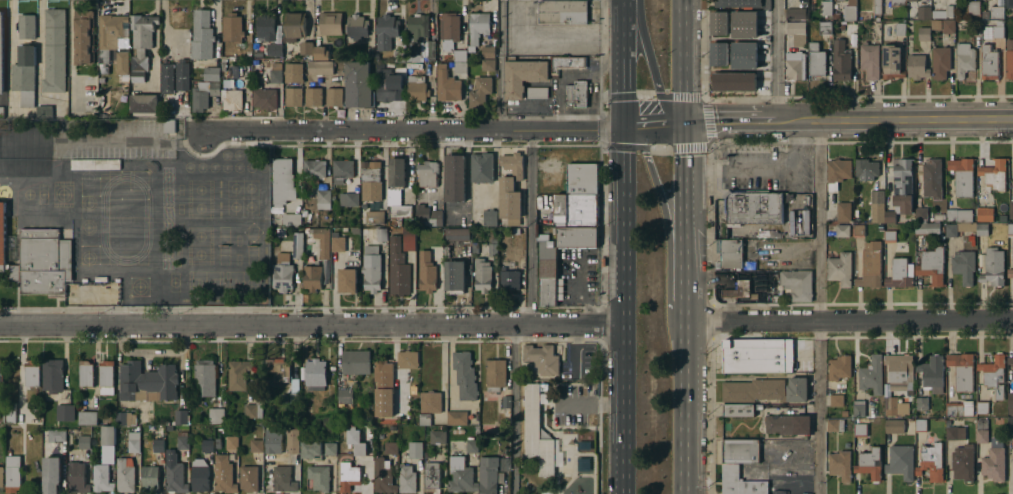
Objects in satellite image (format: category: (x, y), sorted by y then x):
building: (840, 0)
building: (912, 0)
building: (897, 3)
building: (742, 4)
building: (1008, 4)
building: (877, 7)
building: (826, 8)
building: (973, 8)
building: (563, 12)
building: (849, 13)
building: (923, 13)
building: (943, 13)
building: (997, 13)
building: (795, 14)
building: (984, 15)
building: (836, 17)
building: (718, 23)
building: (999, 23)
building: (330, 24)
building: (744, 24)
building: (935, 24)
building: (295, 26)
building: (356, 27)
building: (449, 27)
building: (478, 27)
building: (948, 27)
building: (26, 28)
building: (266, 28)
building: (825, 28)
building: (232, 29)
building: (972, 29)
building: (900, 30)
building: (386, 32)
building: (992, 33)
building: (795, 34)
building: (924, 34)
building: (109, 35)
building: (421, 35)
parking lot: (547, 35)
building: (201, 36)
road: (8, 38)
building: (83, 38)
building: (141, 45)
building: (1009, 45)
building: (813, 47)
building: (306, 49)
road: (72, 50)
building: (487, 50)
building: (273, 51)
building: (54, 52)
building: (1, 53)
building: (321, 54)
building: (718, 54)
building: (459, 55)
building: (744, 55)
building: (398, 57)
road: (682, 60)
building: (964, 60)
road: (777, 61)
building: (869, 61)
building: (891, 61)
building: (841, 62)
building: (940, 63)
building: (122, 64)
road: (500, 64)
road: (651, 64)
building: (817, 64)
building: (989, 64)
building: (488, 65)
building: (566, 65)
road: (624, 65)
building: (1009, 65)
building: (795, 66)
building: (320, 68)
building: (460, 68)
building: (917, 68)
building: (293, 73)
building: (24, 75)
building: (211, 75)
building: (182, 77)
building: (275, 77)
building: (523, 77)
building: (166, 80)
building: (734, 81)
building: (358, 86)
building: (447, 86)
building: (388, 87)
building: (416, 90)
building: (480, 93)
building: (537, 93)
building: (577, 95)
building: (204, 96)
building: (293, 97)
building: (313, 98)
building: (334, 98)
building: (232, 100)
building: (264, 100)
building: (143, 104)
building: (2, 113)
building: (44, 113)
road: (895, 120)
traffic signals: (683, 121)
road: (730, 121)
road: (653, 125)
building: (169, 127)
road: (367, 130)
road: (578, 130)
traffic signals: (624, 130)
building: (23, 139)
parking lot: (113, 140)
road: (683, 145)
building: (23, 164)
building: (95, 165)
parking lot: (561, 167)
building: (865, 167)
building: (482, 168)
road: (759, 168)
building: (314, 170)
building: (837, 170)
building: (342, 171)
building: (397, 173)
building: (994, 173)
building: (427, 174)
building: (962, 174)
building: (931, 177)
building: (455, 179)
building: (582, 180)
building: (370, 182)
building: (282, 183)
building: (900, 187)
building: (511, 189)
building: (322, 198)
building: (348, 200)
building: (706, 200)
building: (877, 204)
building: (751, 207)
building: (1011, 208)
building: (843, 209)
building: (575, 210)
building: (400, 212)
building: (985, 212)
building: (921, 214)
building: (959, 214)
building: (373, 216)
building: (428, 217)
building: (490, 218)
building: (291, 221)
building: (798, 222)
building: (829, 227)
building: (959, 227)
road: (531, 228)
building: (927, 228)
building: (982, 228)
building: (1010, 228)
building: (842, 229)
building: (859, 229)
building: (2, 234)
building: (457, 235)
building: (890, 235)
building: (381, 236)
building: (576, 237)
road: (668, 238)
building: (408, 241)
building: (322, 242)
building: (340, 244)
building: (297, 246)
building: (492, 250)
building: (731, 252)
building: (500, 254)
building: (547, 260)
building: (43, 261)
building: (601, 262)
building: (932, 263)
building: (993, 265)
building: (963, 266)
building: (371, 267)
building: (397, 267)
building: (839, 267)
building: (870, 267)
building: (282, 271)
building: (426, 271)
building: (900, 272)
building: (1010, 272)
building: (482, 273)
building: (757, 274)
parking lot: (580, 275)
building: (312, 276)
building: (454, 276)
building: (347, 278)
building: (510, 278)
building: (797, 283)
building: (738, 287)
building: (549, 290)
parking lot: (560, 292)
road: (819, 307)
road: (623, 311)
road: (847, 322)
road: (311, 327)
road: (681, 331)
building: (757, 354)
building: (407, 358)
building: (542, 358)
building: (1010, 359)
building: (355, 362)
building: (839, 366)
building: (278, 368)
building: (961, 369)
building: (1, 370)
building: (32, 371)
building: (900, 371)
building: (52, 373)
building: (86, 373)
building: (383, 373)
building: (871, 373)
building: (932, 373)
building: (238, 374)
building: (315, 374)
building: (465, 374)
building: (495, 374)
building: (993, 374)
building: (106, 377)
building: (204, 377)
building: (147, 380)
building: (766, 388)
building: (294, 391)
building: (345, 398)
building: (1010, 398)
building: (836, 399)
building: (891, 402)
building: (921, 402)
building: (430, 404)
building: (505, 404)
building: (254, 405)
building: (984, 406)
building: (859, 407)
building: (959, 407)
building: (740, 408)
road: (514, 410)
building: (395, 411)
building: (7, 412)
building: (65, 413)
building: (844, 413)
building: (180, 415)
building: (216, 416)
building: (123, 417)
building: (87, 418)
building: (456, 418)
building: (424, 419)
building: (390, 421)
building: (324, 422)
building: (787, 423)
building: (834, 424)
building: (894, 425)
parking lot: (572, 426)
building: (1010, 426)
building: (860, 428)
building: (920, 428)
building: (537, 430)
building: (982, 430)
building: (955, 432)
building: (55, 435)
building: (108, 435)
building: (437, 435)
building: (182, 439)
building: (292, 439)
building: (84, 440)
building: (134, 440)
building: (273, 440)
building: (356, 440)
building: (232, 441)
building: (929, 441)
building: (207, 444)
building: (256, 444)
building: (158, 445)
building: (317, 447)
building: (390, 448)
building: (472, 449)
building: (415, 450)
building: (740, 450)
building: (107, 453)
building: (901, 460)
building: (993, 460)
building: (931, 461)
building: (962, 461)
building: (869, 462)
building: (840, 463)
building: (503, 464)
parking lot: (586, 464)
building: (12, 472)
building: (348, 472)
building: (124, 473)
building: (223, 473)
building: (199, 474)
building: (461, 474)
building: (488, 474)
building: (51, 475)
building: (383, 475)
building: (431, 475)
building: (174, 476)
building: (318, 476)
building: (149, 477)
building: (248, 477)
building: (406, 477)
building: (1, 478)
building: (77, 478)
building: (102, 478)
building: (283, 478)
building: (740, 482)

